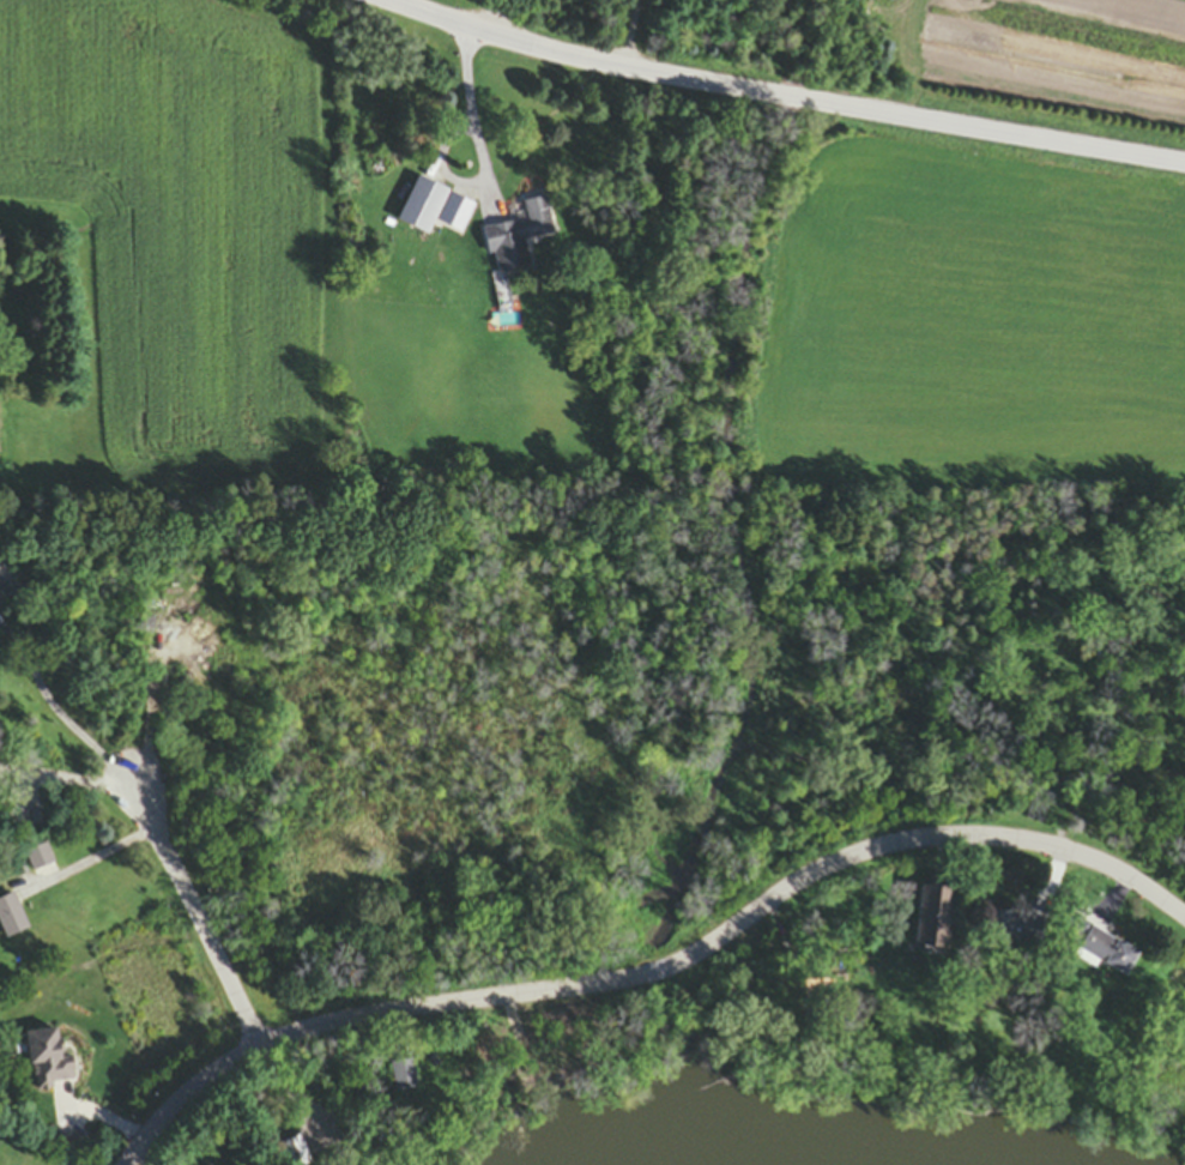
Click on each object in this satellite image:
road: (492, 16)
road: (631, 35)
road: (781, 101)
road: (476, 114)
building: (423, 209)
building: (518, 240)
building: (210, 611)
road: (53, 706)
road: (66, 777)
building: (40, 859)
road: (97, 861)
road: (205, 917)
building: (12, 918)
building: (933, 918)
building: (1107, 954)
road: (665, 967)
building: (47, 1062)
building: (295, 1153)

